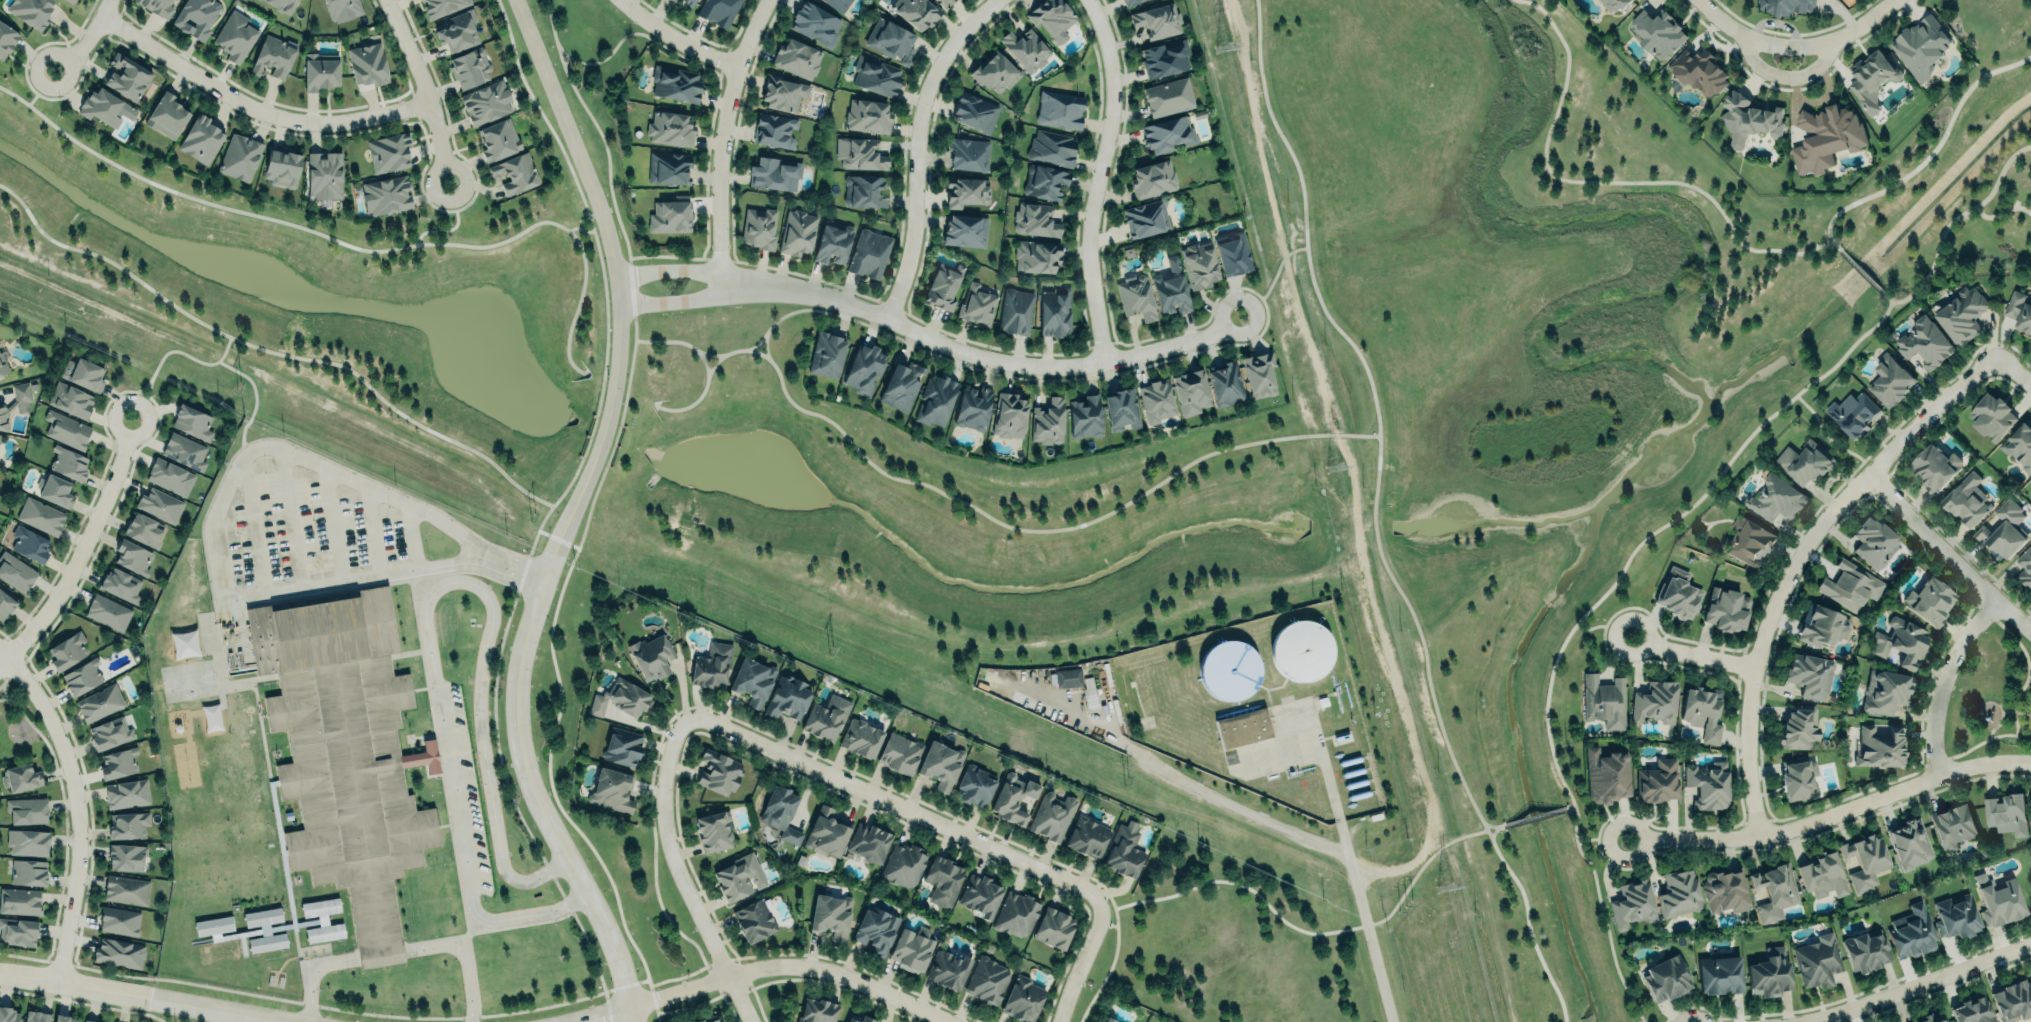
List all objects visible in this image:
building: (673, 0)
building: (70, 1)
building: (687, 2)
building: (946, 2)
building: (1128, 2)
building: (1616, 3)
building: (282, 5)
building: (838, 5)
building: (156, 6)
building: (441, 6)
building: (1785, 6)
building: (341, 9)
building: (31, 11)
building: (718, 11)
building: (916, 12)
building: (196, 17)
building: (1052, 17)
building: (1156, 20)
building: (815, 24)
building: (456, 31)
building: (1657, 33)
road: (1737, 34)
road: (1846, 35)
building: (235, 36)
road: (86, 39)
road: (673, 39)
building: (6, 40)
building: (890, 40)
building: (1921, 46)
building: (1025, 49)
power tower: (1225, 49)
building: (273, 56)
building: (797, 57)
building: (1164, 58)
building: (367, 64)
road: (1757, 66)
building: (469, 68)
road: (1814, 70)
building: (320, 71)
building: (1697, 71)
building: (995, 72)
building: (876, 76)
building: (126, 77)
building: (1866, 79)
building: (676, 83)
road: (40, 87)
road: (424, 88)
building: (784, 93)
building: (1168, 97)
building: (486, 102)
road: (255, 106)
building: (104, 107)
building: (1059, 109)
building: (974, 112)
building: (166, 115)
building: (867, 116)
building: (1748, 120)
building: (669, 128)
building: (774, 130)
building: (1168, 134)
building: (1826, 138)
building: (200, 139)
building: (497, 139)
road: (719, 145)
building: (1052, 147)
road: (915, 148)
building: (388, 152)
building: (859, 153)
building: (967, 154)
road: (1926, 154)
building: (239, 156)
building: (282, 166)
building: (667, 167)
building: (514, 173)
building: (775, 173)
building: (324, 175)
road: (1095, 178)
building: (1151, 179)
building: (1044, 182)
road: (1601, 182)
building: (864, 191)
building: (965, 191)
building: (386, 194)
road: (2001, 212)
building: (669, 216)
building: (1146, 218)
building: (1036, 219)
road: (1950, 221)
road: (453, 226)
building: (758, 227)
road: (586, 230)
building: (965, 230)
building: (796, 232)
building: (832, 242)
road: (350, 245)
building: (868, 253)
building: (1232, 253)
building: (1035, 256)
building: (1199, 264)
road: (1861, 271)
road: (719, 273)
road: (1272, 281)
building: (942, 287)
building: (1170, 288)
road: (1744, 295)
building: (1135, 296)
road: (719, 297)
building: (977, 304)
building: (2019, 308)
building: (1015, 311)
building: (1055, 311)
road: (783, 314)
building: (1962, 315)
road: (672, 340)
building: (1926, 342)
road: (765, 346)
road: (169, 351)
road: (281, 354)
road: (710, 354)
building: (826, 355)
road: (1028, 365)
building: (3, 367)
building: (862, 368)
road: (2014, 370)
building: (84, 374)
building: (1258, 374)
building: (1890, 378)
building: (1225, 383)
power tower: (236, 385)
building: (901, 385)
building: (1190, 391)
road: (255, 398)
building: (70, 400)
building: (934, 400)
building: (1156, 401)
building: (15, 402)
building: (972, 408)
building: (1121, 409)
road: (1377, 412)
building: (1850, 412)
building: (1008, 415)
building: (1085, 417)
building: (1992, 417)
building: (191, 421)
building: (1047, 422)
building: (66, 429)
road: (1826, 440)
building: (2019, 443)
building: (184, 451)
road: (288, 452)
building: (1801, 460)
building: (67, 463)
park: (1166, 464)
building: (1931, 465)
power tower: (1331, 466)
building: (169, 477)
building: (55, 490)
building: (1776, 498)
building: (1967, 498)
building: (159, 504)
road: (981, 511)
road: (568, 514)
building: (40, 515)
power tower: (533, 516)
road: (288, 519)
road: (331, 525)
road: (252, 529)
building: (1999, 530)
building: (142, 532)
road: (370, 532)
road: (409, 538)
building: (1749, 539)
building: (1874, 541)
building: (30, 544)
road: (80, 547)
road: (1949, 553)
building: (132, 558)
road: (1798, 559)
building: (2023, 564)
road: (508, 568)
building: (15, 572)
road: (349, 580)
building: (1846, 584)
building: (121, 585)
building: (1678, 592)
building: (1929, 599)
building: (5, 604)
road: (424, 604)
building: (1726, 607)
road: (1584, 610)
building: (107, 611)
building: (1821, 625)
road: (1601, 626)
road: (2013, 637)
building: (1901, 641)
building: (1299, 648)
storage tank: (1299, 648)
building: (67, 649)
power tower: (831, 649)
road: (1692, 654)
building: (652, 655)
building: (1892, 655)
building: (712, 664)
building: (1230, 667)
storage tank: (1230, 667)
road: (2027, 673)
building: (1810, 674)
building: (81, 675)
building: (1067, 677)
building: (753, 678)
road: (1942, 680)
building: (1885, 691)
building: (787, 696)
building: (621, 697)
park: (1990, 697)
building: (1600, 699)
building: (1323, 700)
building: (99, 701)
building: (1655, 701)
road: (2014, 703)
building: (1698, 710)
road: (2016, 712)
building: (827, 715)
road: (1999, 721)
building: (1243, 725)
building: (1798, 727)
building: (110, 732)
building: (861, 736)
road: (1982, 741)
street lamp: (1944, 745)
building: (1880, 746)
building: (623, 747)
building: (343, 751)
building: (899, 752)
building: (118, 763)
building: (939, 763)
building: (718, 772)
building: (20, 776)
building: (1605, 776)
building: (1798, 777)
power tower: (1125, 779)
building: (1653, 779)
building: (1709, 783)
building: (974, 784)
building: (612, 790)
building: (126, 793)
building: (1012, 798)
road: (1225, 800)
road: (893, 804)
road: (75, 807)
road: (1567, 807)
building: (27, 809)
building: (781, 811)
building: (1051, 814)
building: (2006, 814)
road: (1532, 816)
road: (1831, 817)
road: (1419, 822)
building: (128, 823)
road: (1491, 824)
building: (1947, 824)
building: (714, 829)
road: (1494, 830)
building: (826, 831)
building: (1087, 836)
road: (1599, 839)
building: (28, 840)
building: (869, 841)
building: (1909, 843)
building: (1124, 850)
building: (126, 855)
building: (1864, 861)
building: (903, 864)
building: (28, 871)
road: (676, 873)
building: (1822, 873)
building: (737, 875)
building: (943, 879)
power tower: (1443, 884)
building: (126, 889)
building: (1725, 889)
building: (1769, 889)
road: (1359, 890)
building: (1679, 893)
building: (980, 894)
building: (1998, 899)
building: (19, 900)
power tower: (1404, 901)
building: (1633, 902)
building: (1016, 913)
building: (831, 914)
building: (1955, 915)
building: (119, 919)
building: (322, 919)
building: (755, 919)
road: (1529, 924)
building: (1054, 926)
building: (876, 929)
road: (1302, 929)
building: (18, 930)
building: (1911, 930)
building: (215, 938)
building: (913, 947)
building: (1866, 950)
building: (119, 951)
road: (381, 955)
road: (461, 959)
building: (1818, 959)
road: (1080, 960)
road: (789, 966)
building: (948, 969)
building: (1769, 971)
building: (1720, 973)
road: (313, 974)
building: (1666, 977)
building: (987, 980)
road: (1917, 985)
road: (141, 996)
building: (1023, 999)
building: (2013, 999)
building: (817, 1010)
building: (1973, 1010)
road: (600, 1014)
building: (9, 1015)
building: (36, 1015)
road: (225, 1017)
building: (65, 1018)
building: (1930, 1018)
building: (713, 1019)
building: (862, 1019)
building: (90, 1020)
building: (1109, 1020)

